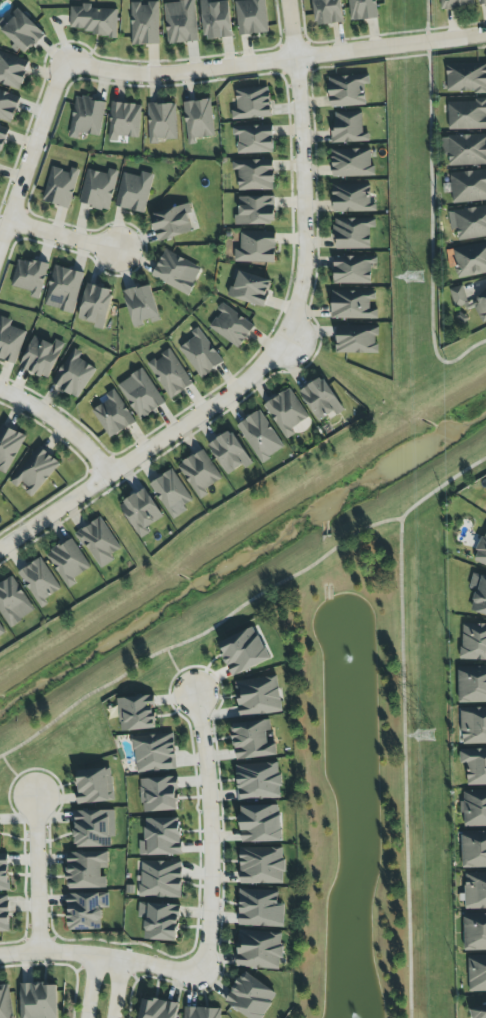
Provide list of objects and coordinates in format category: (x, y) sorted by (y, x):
building: (482, 2)
building: (456, 4)
building: (362, 10)
building: (327, 12)
building: (251, 17)
building: (94, 20)
building: (216, 20)
building: (180, 22)
building: (144, 23)
building: (21, 30)
road: (277, 62)
building: (12, 71)
building: (466, 78)
building: (347, 90)
building: (252, 103)
building: (8, 106)
building: (466, 115)
building: (86, 117)
building: (198, 120)
building: (124, 121)
building: (161, 122)
building: (348, 128)
building: (2, 137)
building: (253, 139)
building: (465, 149)
road: (31, 153)
building: (351, 163)
building: (254, 174)
building: (468, 186)
building: (60, 187)
building: (98, 189)
building: (134, 191)
building: (352, 198)
road: (428, 209)
building: (255, 211)
building: (172, 222)
building: (470, 223)
building: (353, 233)
road: (62, 236)
building: (255, 247)
building: (470, 260)
building: (353, 269)
building: (176, 272)
building: (29, 277)
power tower: (412, 277)
building: (249, 288)
building: (62, 289)
building: (458, 296)
building: (94, 305)
building: (352, 305)
building: (480, 305)
building: (141, 306)
building: (231, 326)
building: (356, 339)
building: (10, 341)
road: (280, 344)
building: (200, 354)
building: (41, 357)
building: (169, 373)
building: (73, 374)
building: (140, 394)
building: (320, 399)
building: (286, 412)
building: (112, 415)
road: (60, 425)
building: (260, 436)
building: (8, 446)
building: (229, 453)
building: (35, 470)
building: (199, 473)
building: (171, 493)
building: (141, 512)
building: (98, 542)
building: (481, 552)
building: (68, 562)
building: (39, 581)
building: (478, 594)
building: (13, 603)
road: (242, 605)
building: (1, 631)
building: (473, 642)
building: (243, 651)
road: (178, 672)
building: (472, 684)
building: (258, 696)
building: (135, 713)
building: (473, 726)
power tower: (424, 736)
building: (252, 740)
building: (154, 753)
building: (474, 766)
road: (404, 769)
road: (17, 777)
building: (258, 781)
building: (94, 785)
building: (158, 794)
building: (474, 808)
building: (260, 823)
building: (93, 828)
road: (210, 831)
building: (161, 837)
building: (474, 850)
building: (261, 865)
building: (86, 870)
building: (3, 872)
road: (35, 874)
building: (160, 879)
building: (475, 891)
building: (260, 908)
building: (86, 910)
building: (4, 914)
building: (159, 921)
building: (474, 932)
building: (259, 950)
road: (99, 955)
building: (477, 973)
road: (91, 986)
road: (116, 988)
building: (250, 997)
building: (38, 1000)
building: (5, 1002)
building: (157, 1008)
building: (478, 1011)
building: (201, 1012)

